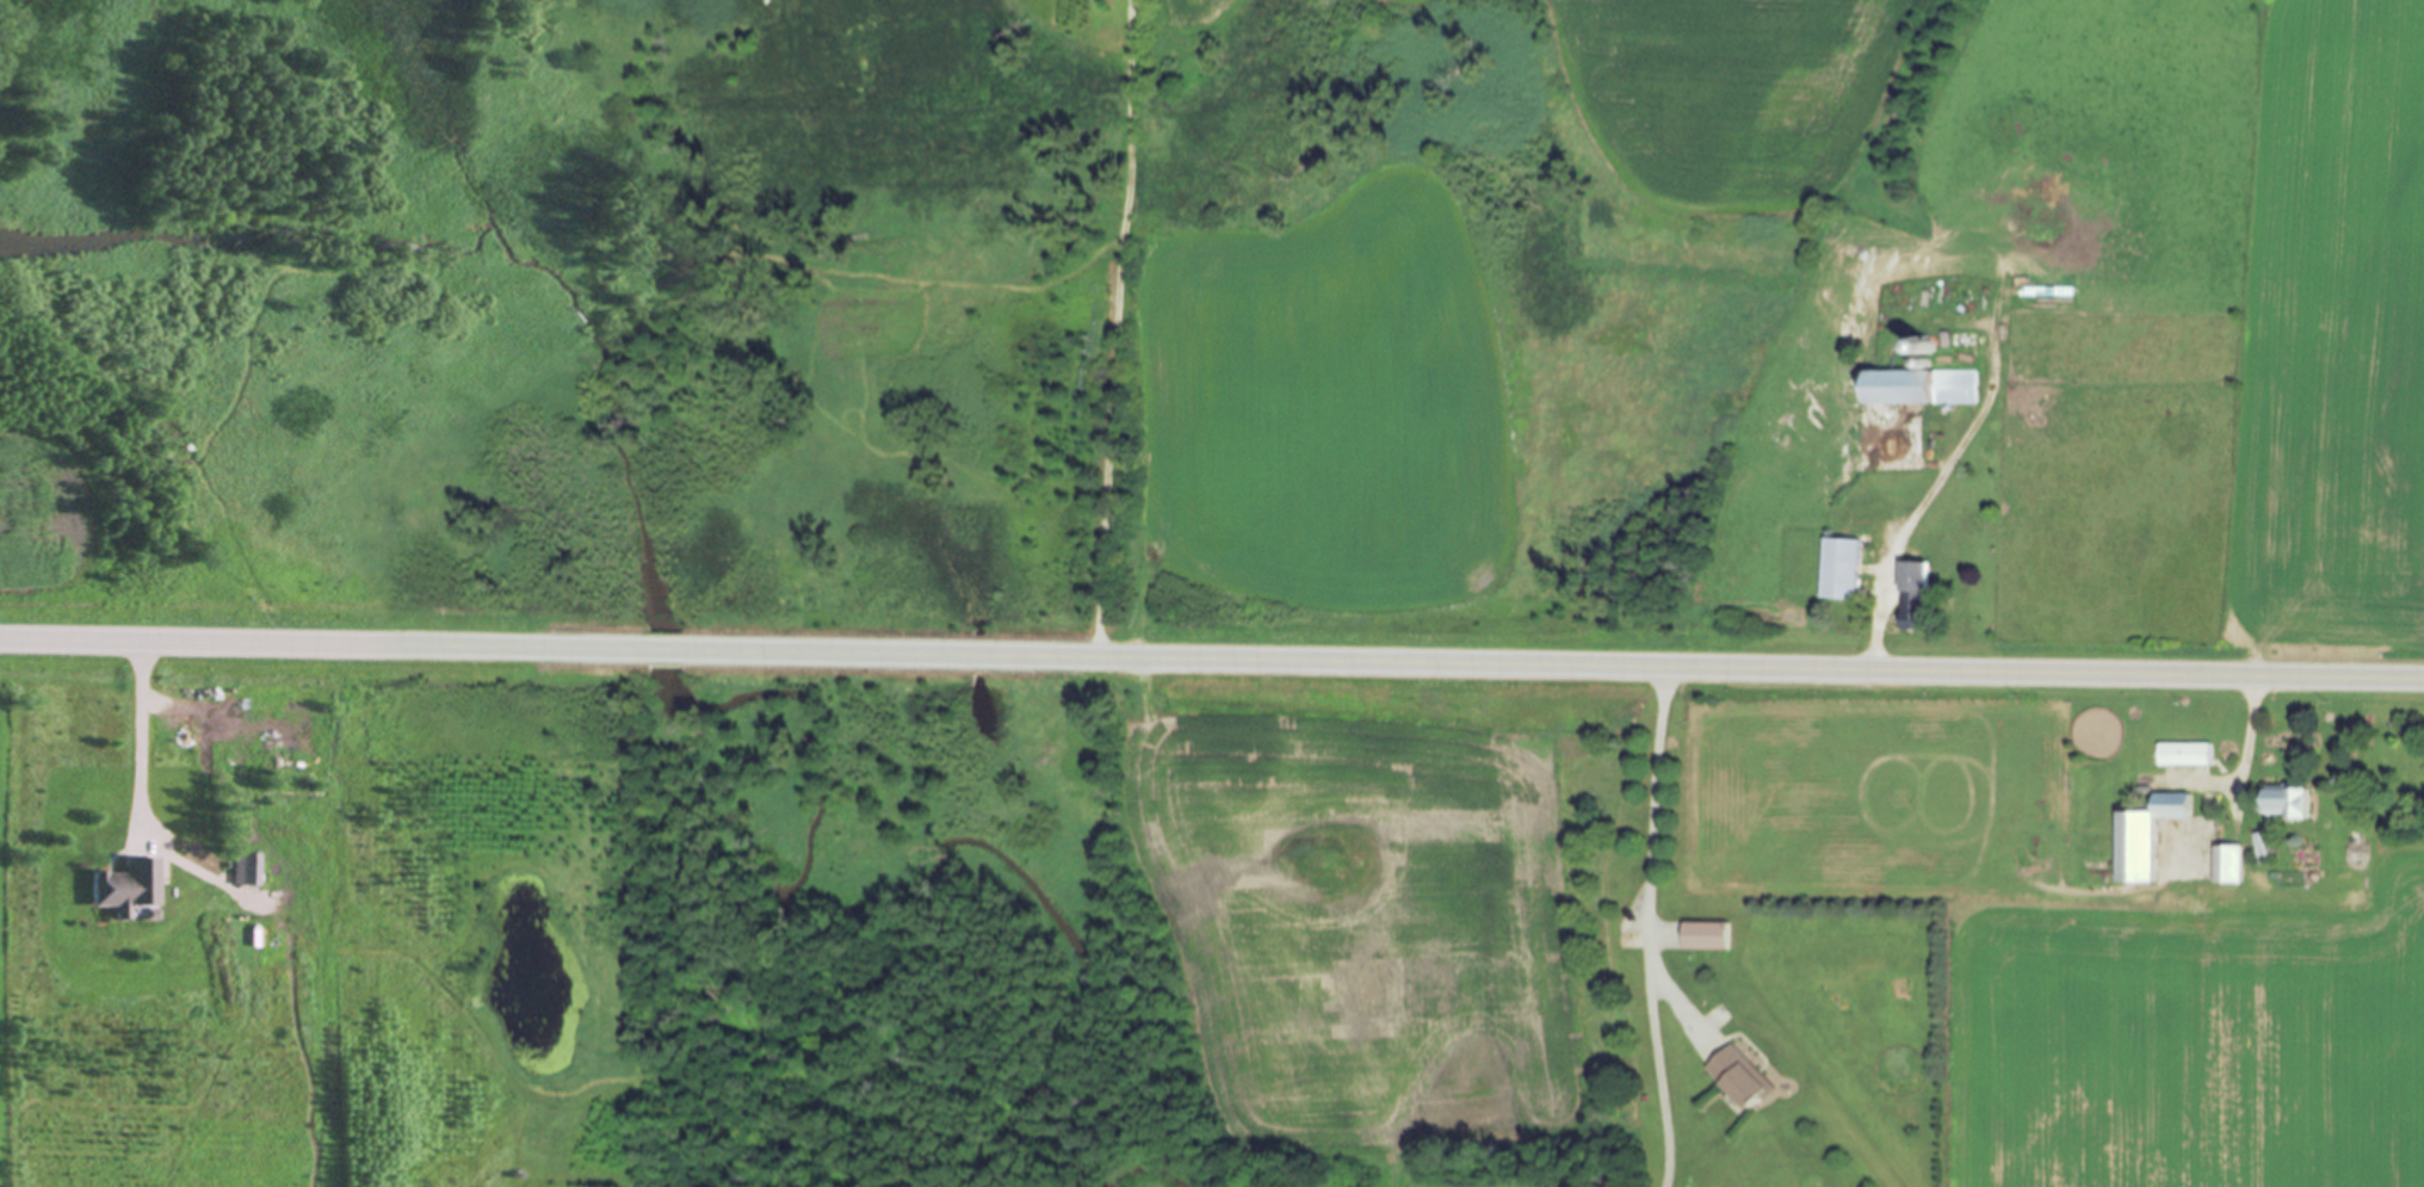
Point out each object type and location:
road: (1109, 329)
building: (1915, 389)
road: (1924, 502)
building: (1836, 570)
building: (1910, 598)
road: (309, 645)
road: (669, 651)
road: (1572, 668)
road: (136, 735)
road: (2247, 737)
building: (2181, 755)
building: (2281, 804)
building: (2140, 837)
building: (2263, 846)
building: (2231, 865)
building: (246, 868)
building: (125, 888)
road: (1650, 928)
building: (1703, 938)
building: (1734, 1081)

